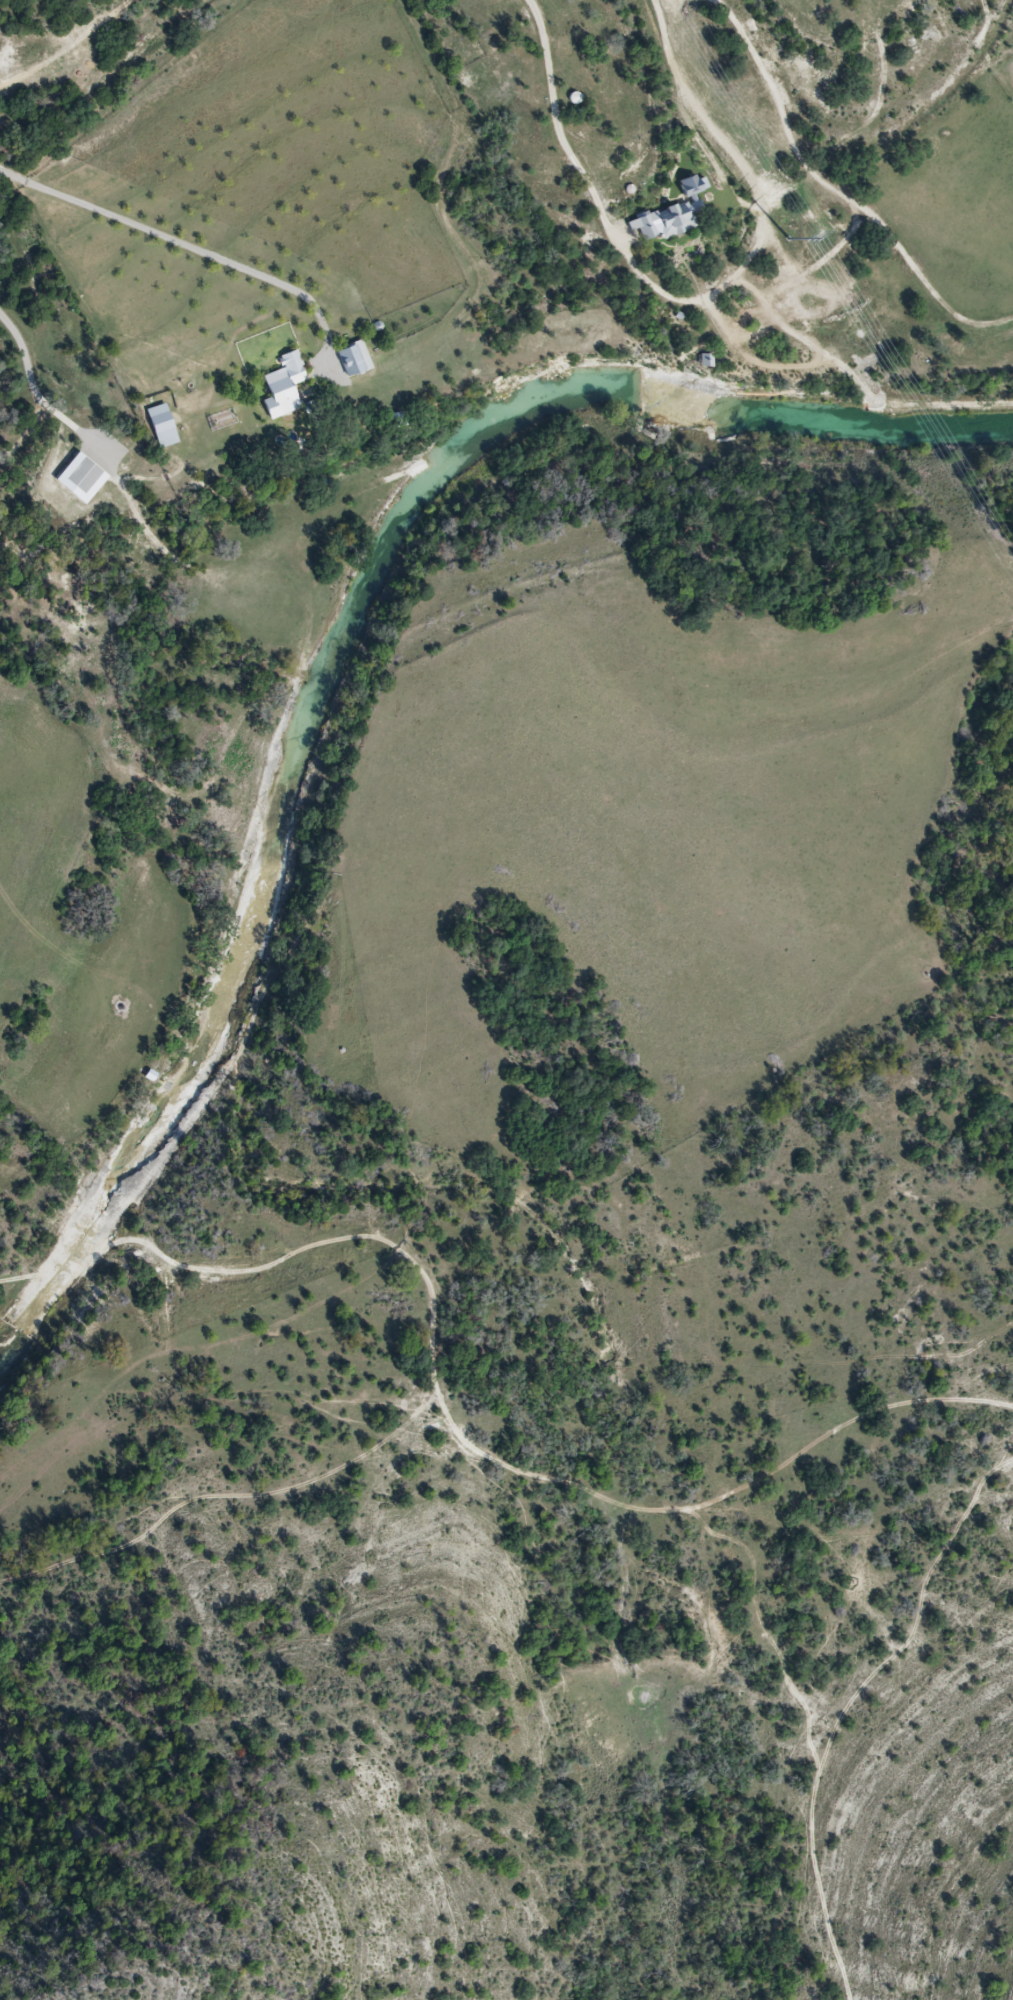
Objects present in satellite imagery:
road: (590, 175)
building: (664, 223)
power tower: (791, 240)
road: (178, 245)
building: (355, 360)
building: (707, 360)
building: (285, 390)
road: (43, 395)
building: (164, 425)
building: (86, 476)
road: (37, 828)
road: (31, 1243)

